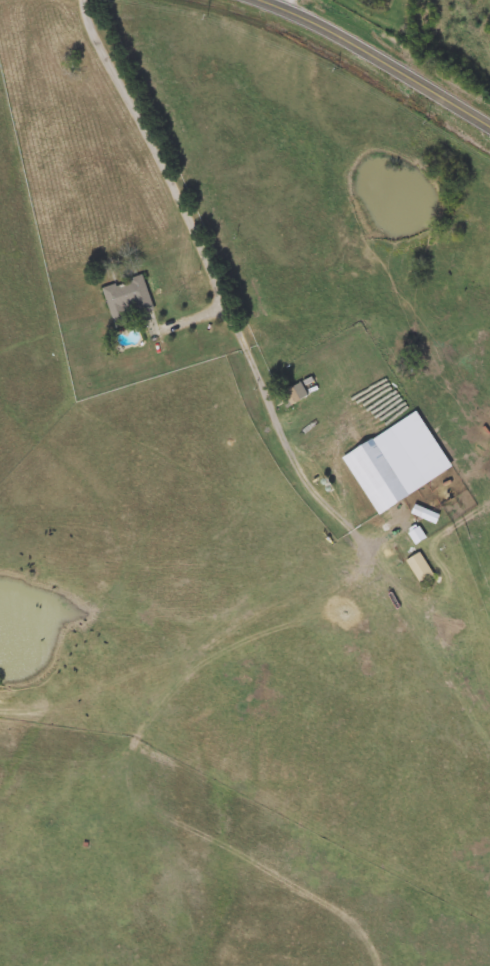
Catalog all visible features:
road: (287, 3)
road: (381, 54)
road: (217, 276)
building: (128, 299)
road: (197, 317)
building: (384, 470)
building: (420, 568)

